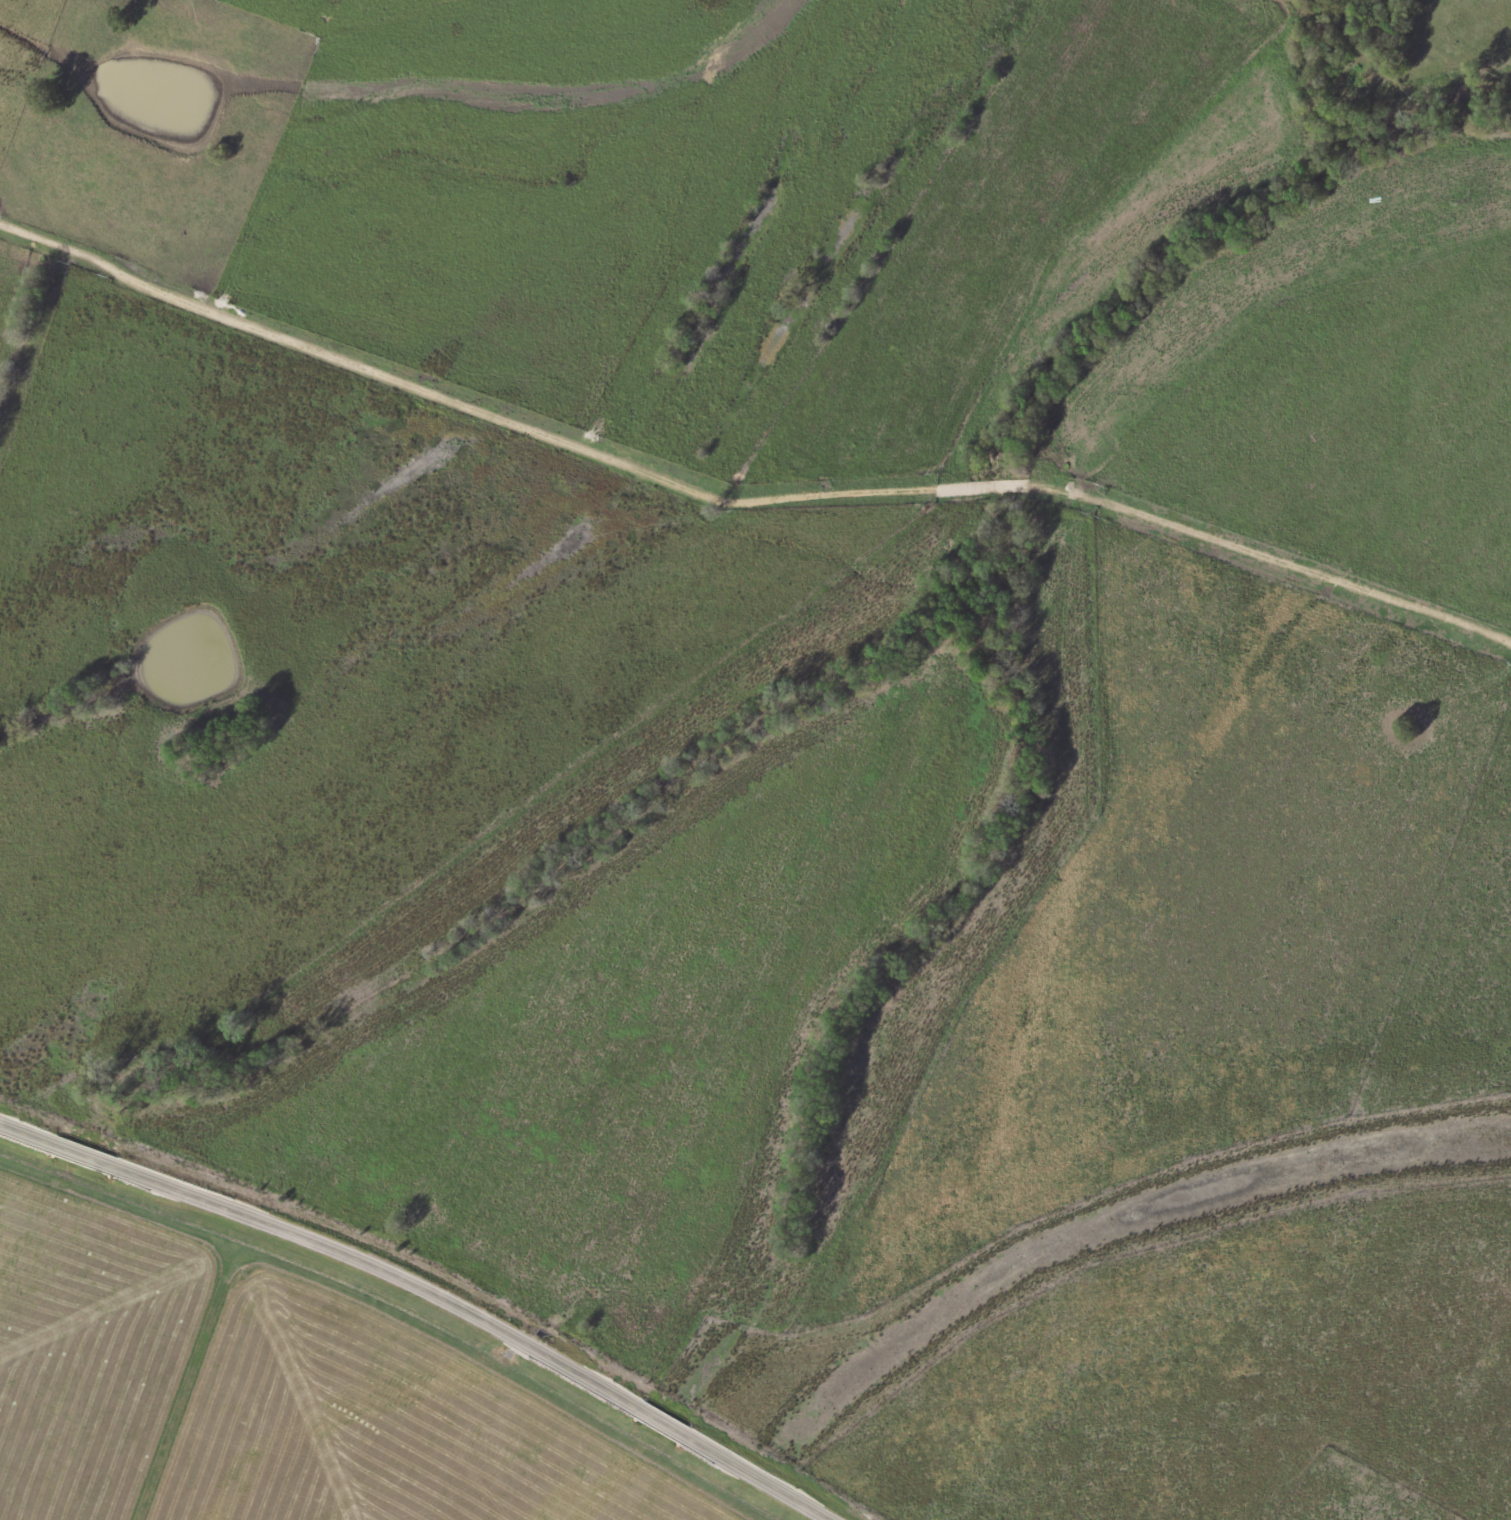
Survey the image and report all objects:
road: (428, 1292)

